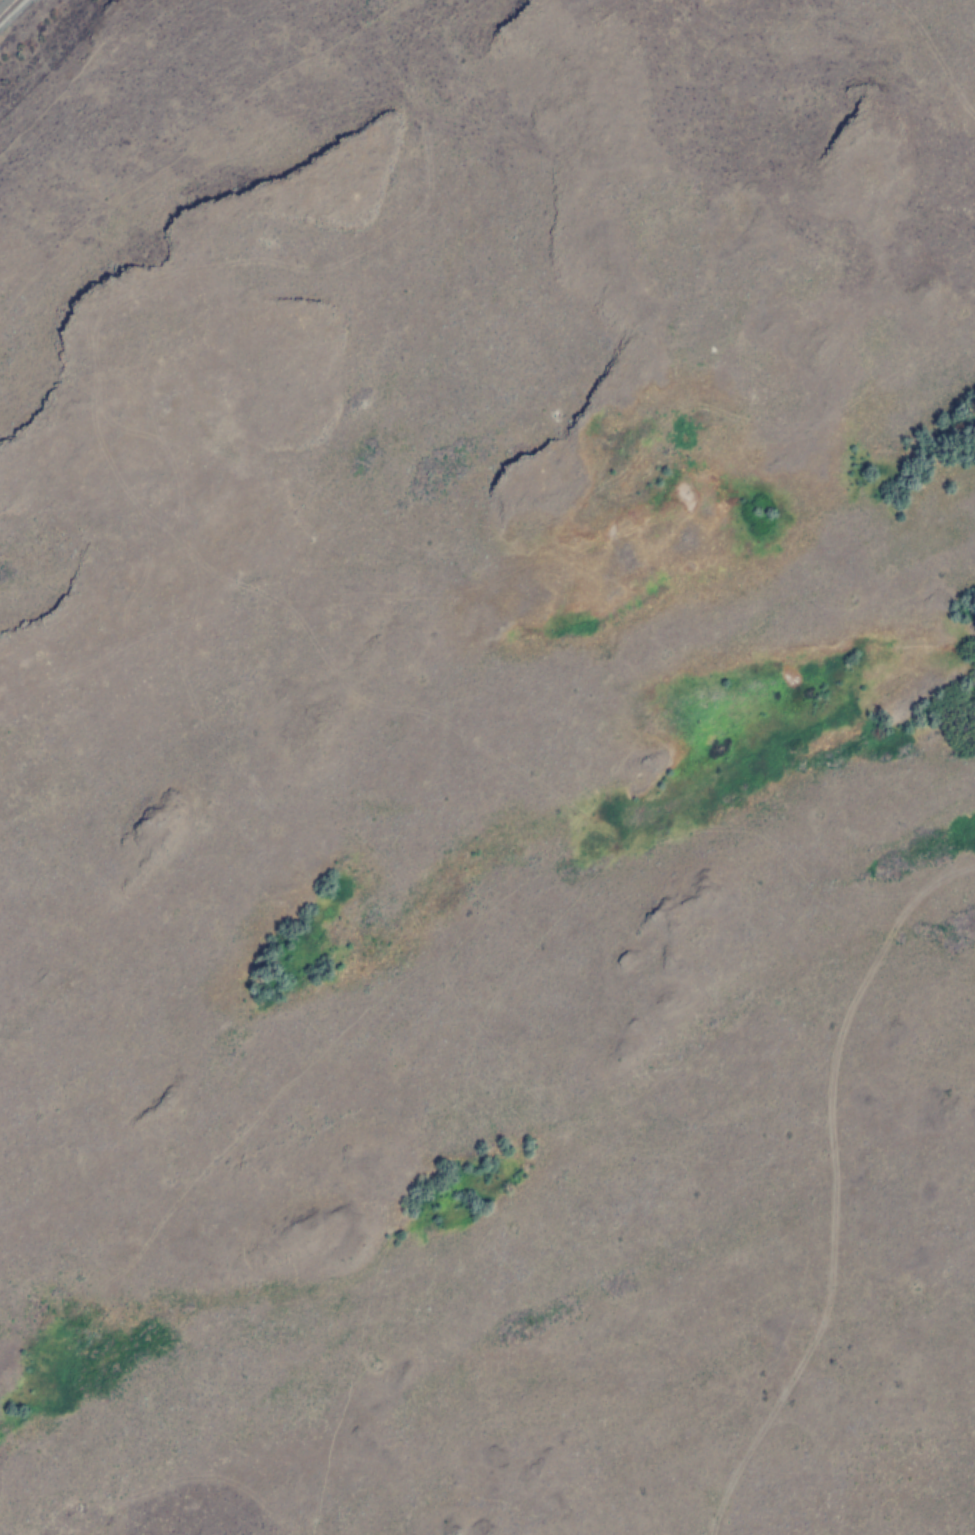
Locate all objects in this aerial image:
railway: (19, 19)

